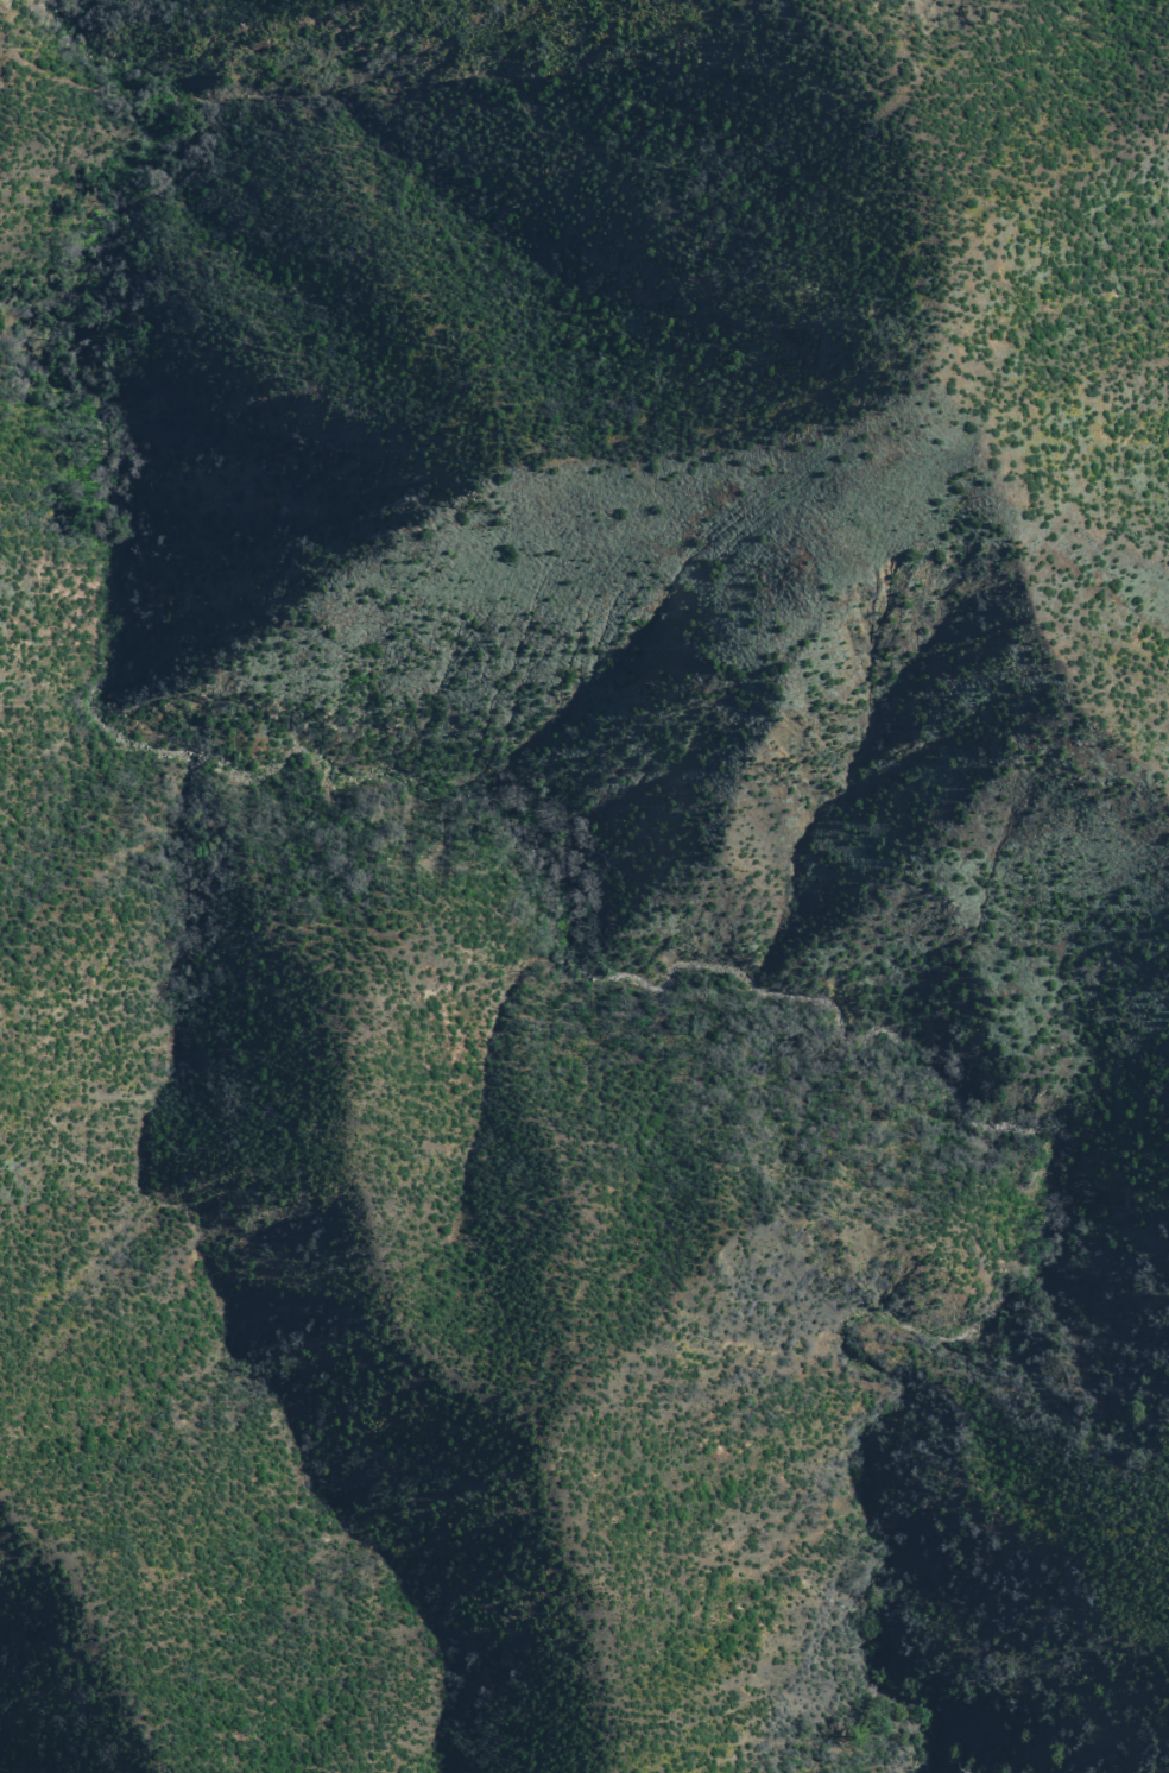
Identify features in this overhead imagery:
road: (102, 88)

